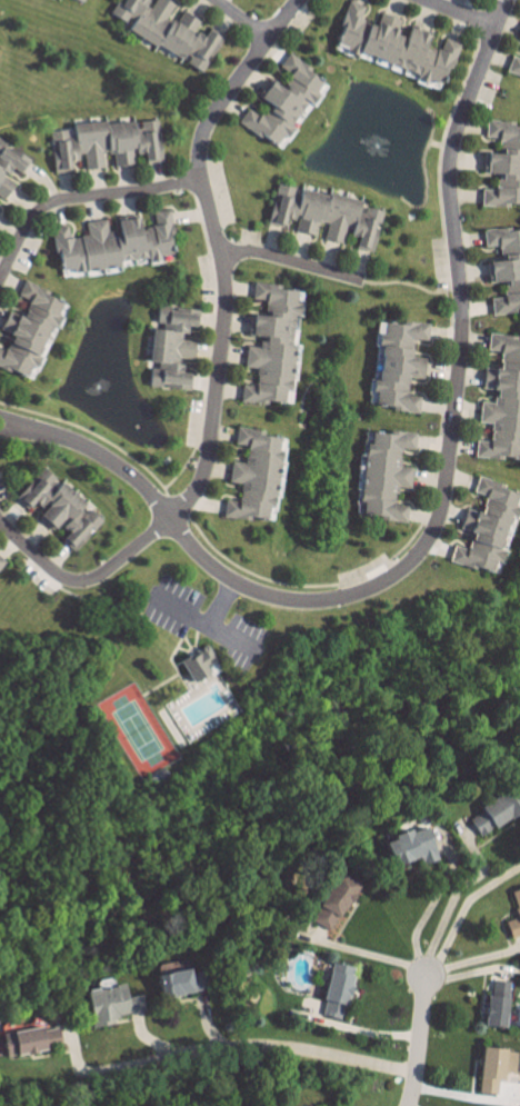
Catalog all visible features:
building: (79, 0)
road: (462, 12)
road: (241, 19)
building: (164, 30)
building: (518, 34)
building: (512, 66)
building: (279, 101)
building: (103, 143)
building: (502, 165)
building: (10, 167)
road: (80, 197)
building: (322, 215)
building: (109, 243)
road: (290, 260)
building: (503, 267)
road: (409, 283)
building: (29, 330)
building: (269, 346)
building: (168, 348)
road: (219, 355)
building: (394, 366)
building: (500, 400)
road: (9, 421)
road: (9, 427)
building: (382, 472)
building: (250, 476)
building: (58, 508)
road: (439, 511)
building: (483, 526)
building: (1, 564)
road: (218, 604)
road: (201, 626)
building: (196, 662)
park: (143, 741)
building: (493, 810)
building: (407, 847)
road: (452, 898)
building: (330, 899)
building: (516, 901)
road: (462, 908)
road: (426, 910)
road: (370, 955)
building: (339, 967)
building: (172, 980)
building: (332, 992)
building: (107, 1003)
building: (493, 1003)
road: (417, 1037)
building: (27, 1038)
road: (257, 1052)
building: (491, 1067)

